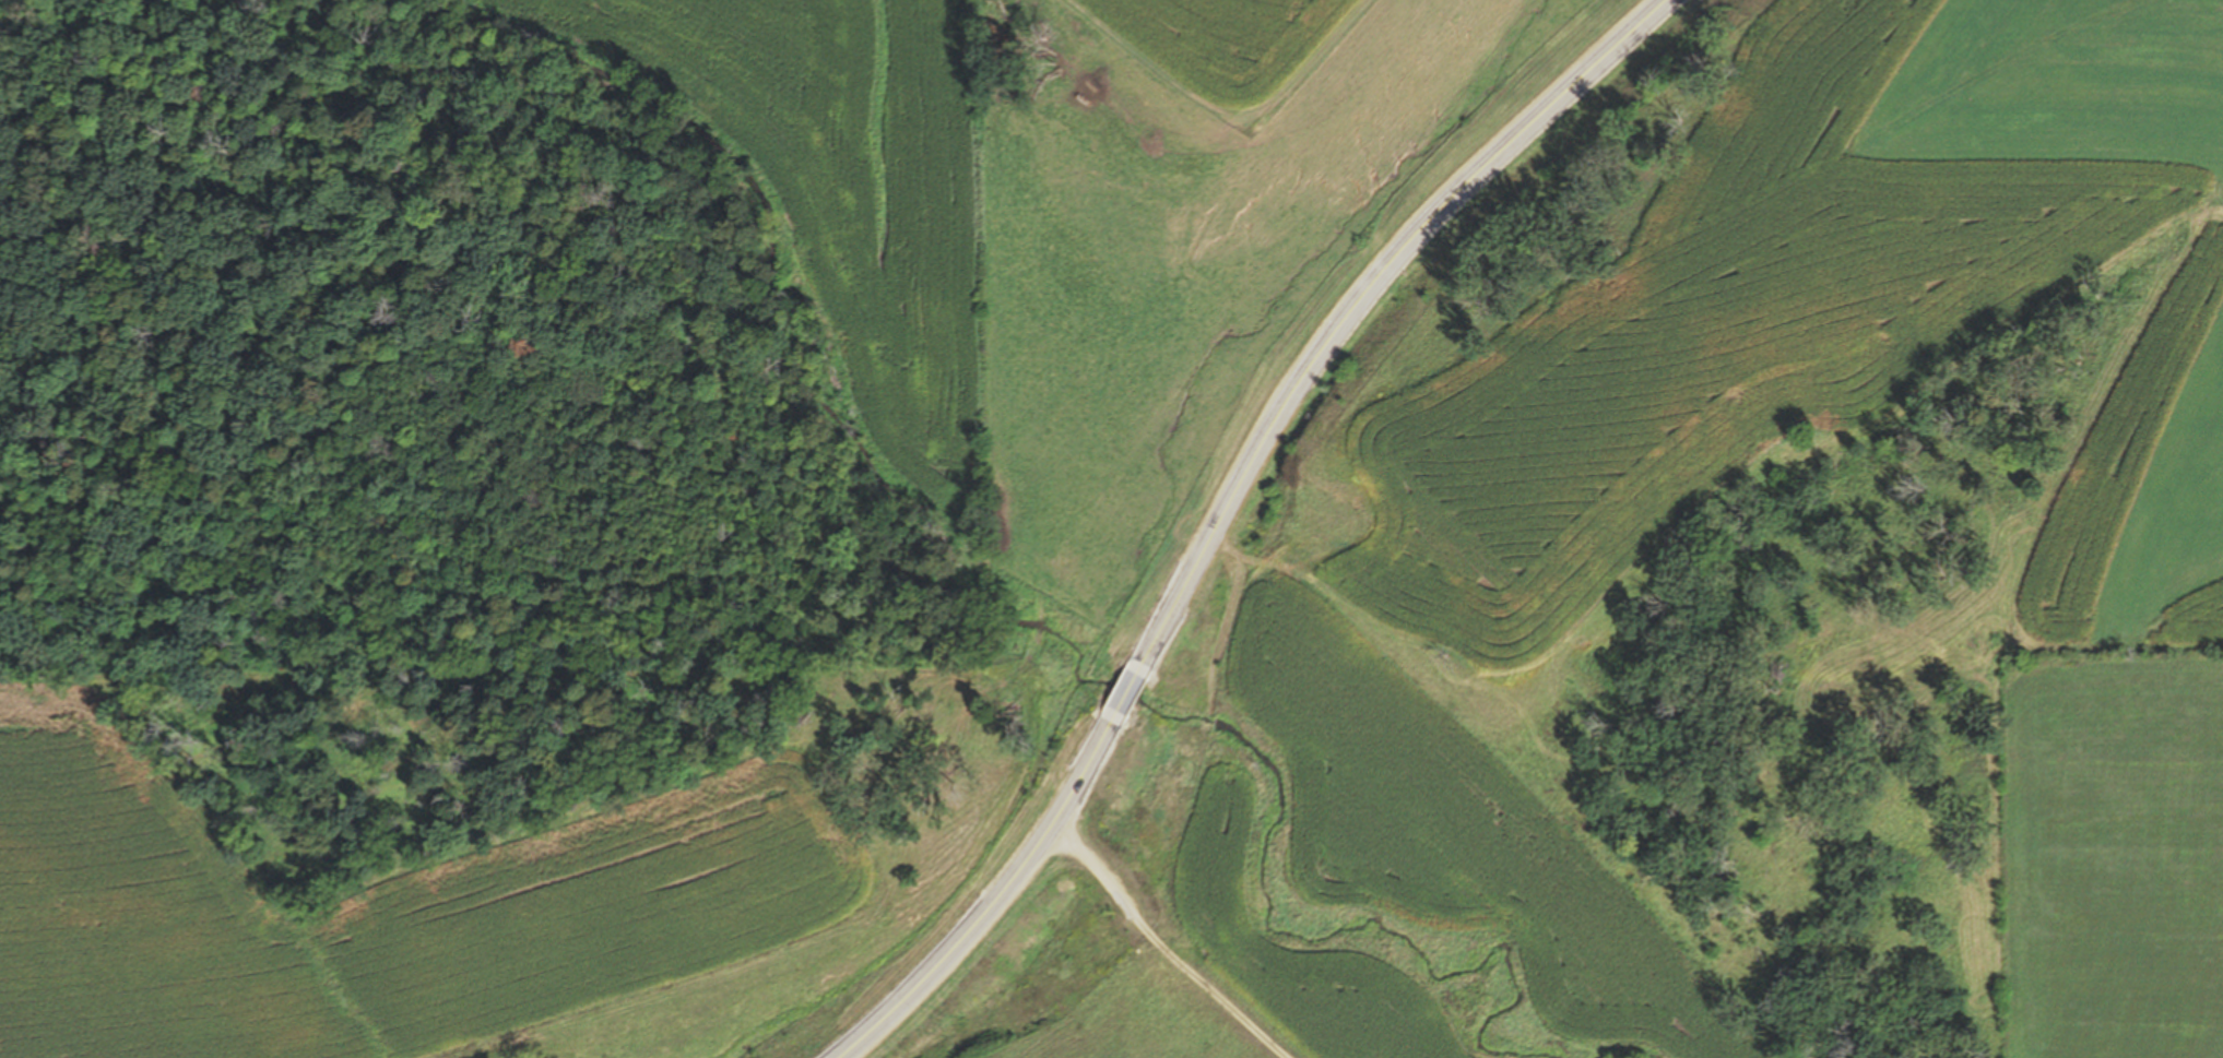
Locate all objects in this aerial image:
road: (1369, 300)
road: (1127, 690)
road: (1000, 904)
road: (1164, 947)
quarry: (1263, 1057)

